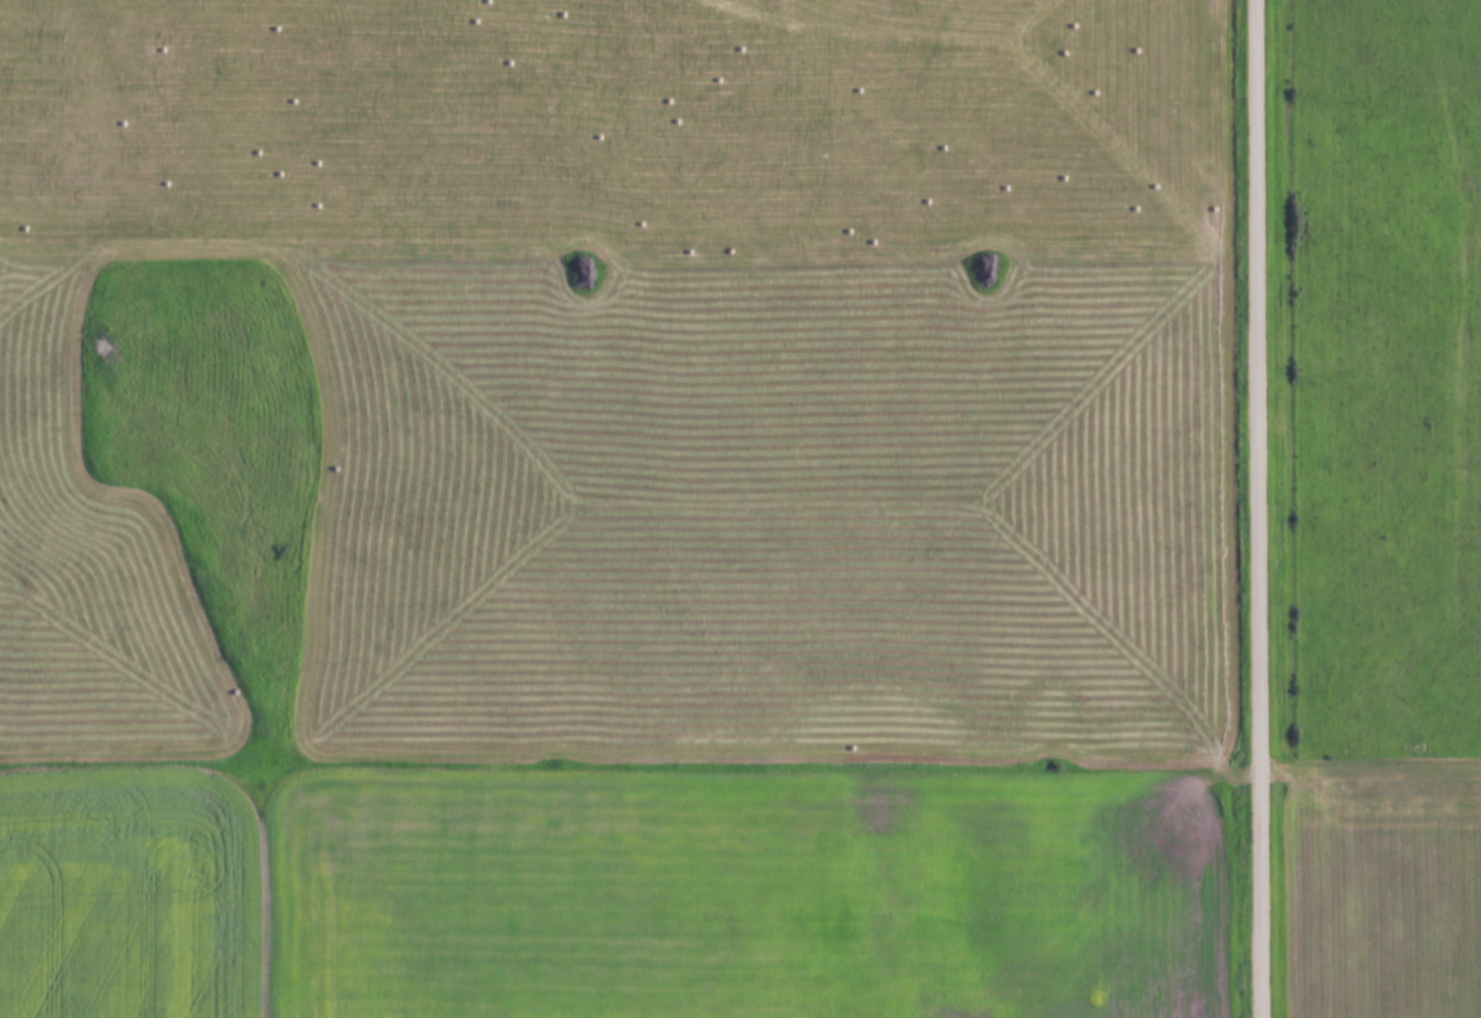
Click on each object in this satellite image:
road: (1258, 508)

